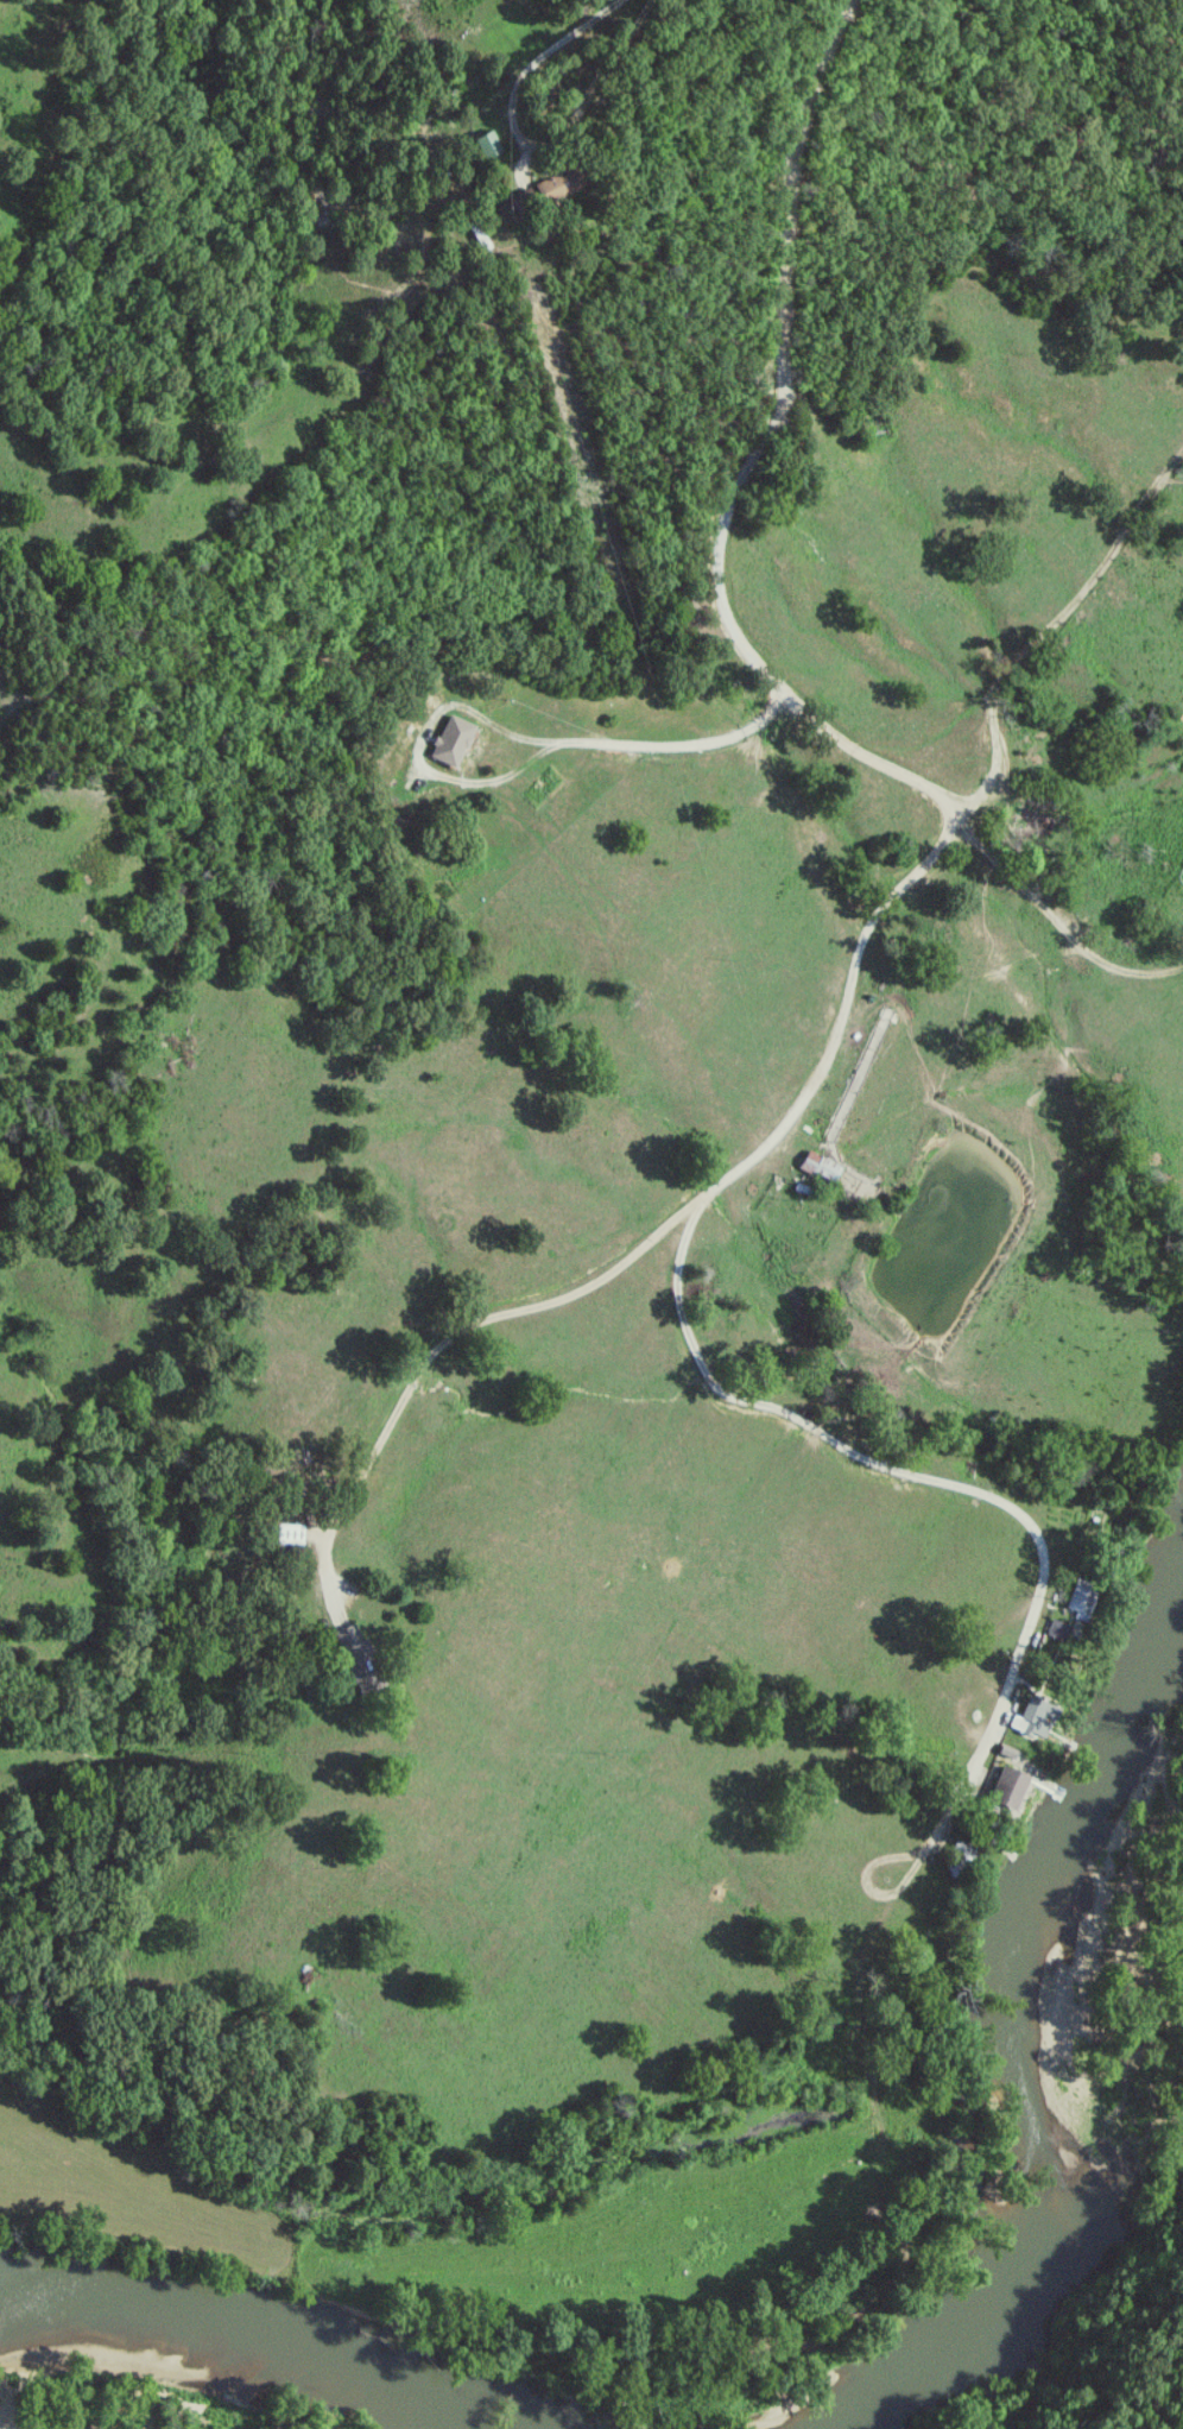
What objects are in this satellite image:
road: (545, 46)
building: (473, 145)
building: (534, 188)
road: (768, 682)
building: (445, 742)
building: (825, 1167)
road: (691, 1349)
building: (297, 1534)
building: (1082, 1605)
building: (1057, 1629)
building: (360, 1645)
building: (1016, 1785)
river: (1038, 2032)
river: (235, 2330)

